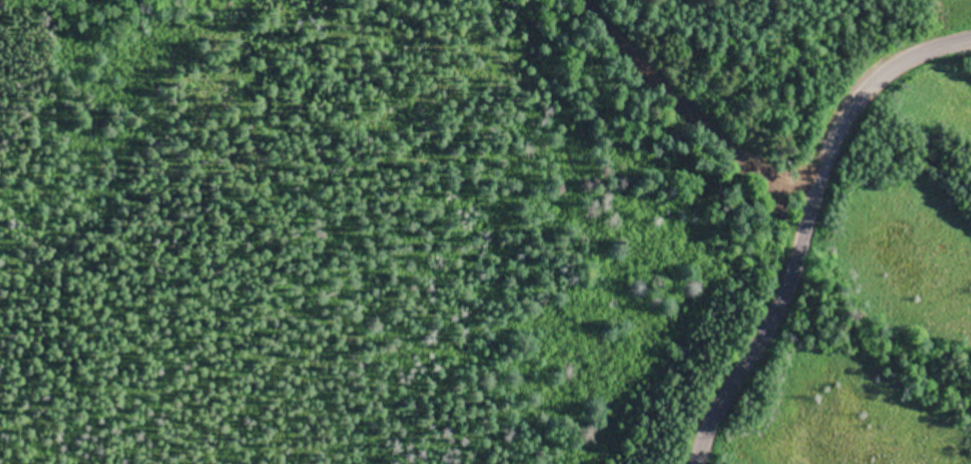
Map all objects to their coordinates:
road: (740, 67)
road: (804, 210)

